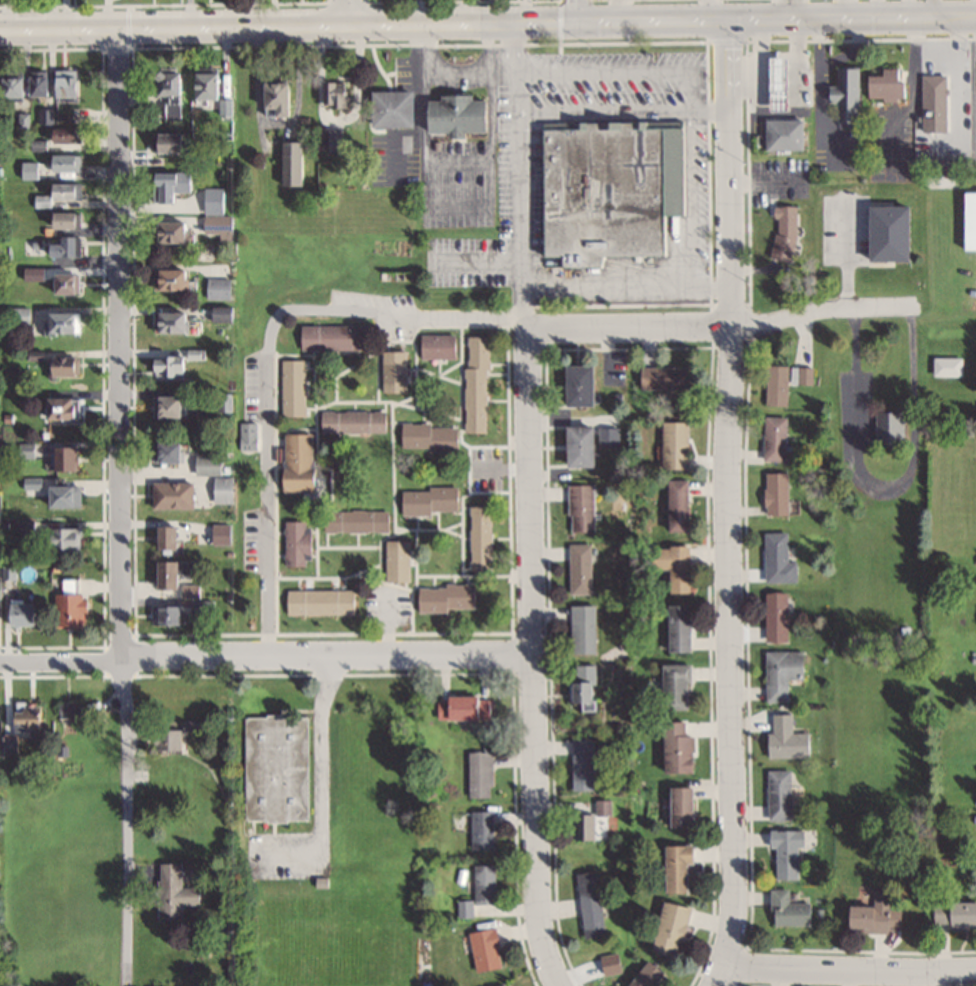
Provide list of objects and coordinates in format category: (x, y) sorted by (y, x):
road: (578, 11)
road: (345, 12)
road: (487, 22)
building: (71, 83)
building: (773, 83)
building: (212, 85)
building: (883, 85)
building: (29, 86)
building: (174, 92)
building: (331, 93)
building: (931, 93)
building: (843, 95)
building: (270, 96)
building: (388, 107)
building: (451, 113)
building: (781, 133)
building: (72, 136)
building: (174, 143)
building: (289, 161)
building: (70, 163)
building: (31, 170)
building: (173, 185)
building: (605, 187)
building: (70, 191)
building: (218, 213)
building: (968, 220)
building: (70, 221)
building: (173, 231)
building: (782, 231)
building: (884, 232)
building: (67, 248)
building: (177, 280)
building: (70, 284)
building: (218, 287)
building: (219, 313)
building: (167, 320)
building: (66, 323)
road: (715, 328)
building: (331, 336)
road: (120, 343)
building: (436, 346)
road: (268, 349)
building: (164, 364)
building: (60, 365)
building: (945, 366)
building: (392, 371)
building: (800, 375)
building: (661, 376)
building: (475, 383)
building: (574, 384)
building: (775, 384)
building: (291, 387)
building: (162, 404)
building: (55, 407)
building: (351, 421)
building: (888, 427)
building: (427, 436)
building: (607, 436)
building: (245, 437)
building: (773, 438)
building: (673, 444)
building: (575, 445)
building: (162, 450)
building: (59, 457)
building: (295, 461)
building: (204, 463)
building: (216, 489)
building: (775, 493)
building: (168, 494)
building: (59, 495)
building: (428, 500)
road: (728, 504)
building: (675, 505)
building: (579, 507)
building: (354, 520)
building: (160, 536)
building: (478, 536)
building: (59, 539)
building: (293, 542)
building: (777, 559)
building: (394, 560)
building: (671, 565)
building: (578, 568)
building: (162, 574)
building: (442, 597)
building: (317, 601)
building: (65, 609)
building: (20, 613)
building: (162, 615)
building: (775, 617)
building: (677, 627)
building: (581, 628)
road: (266, 656)
road: (534, 672)
building: (780, 673)
building: (673, 686)
building: (580, 687)
building: (460, 707)
building: (75, 708)
building: (20, 717)
building: (784, 739)
building: (163, 740)
building: (674, 747)
building: (579, 764)
building: (273, 767)
building: (477, 773)
building: (777, 794)
building: (679, 807)
building: (588, 820)
road: (123, 822)
building: (479, 829)
building: (785, 852)
building: (675, 867)
building: (170, 891)
building: (588, 904)
building: (786, 909)
building: (954, 914)
building: (872, 915)
building: (668, 929)
building: (482, 949)
road: (849, 972)
building: (643, 975)
building: (499, 985)

